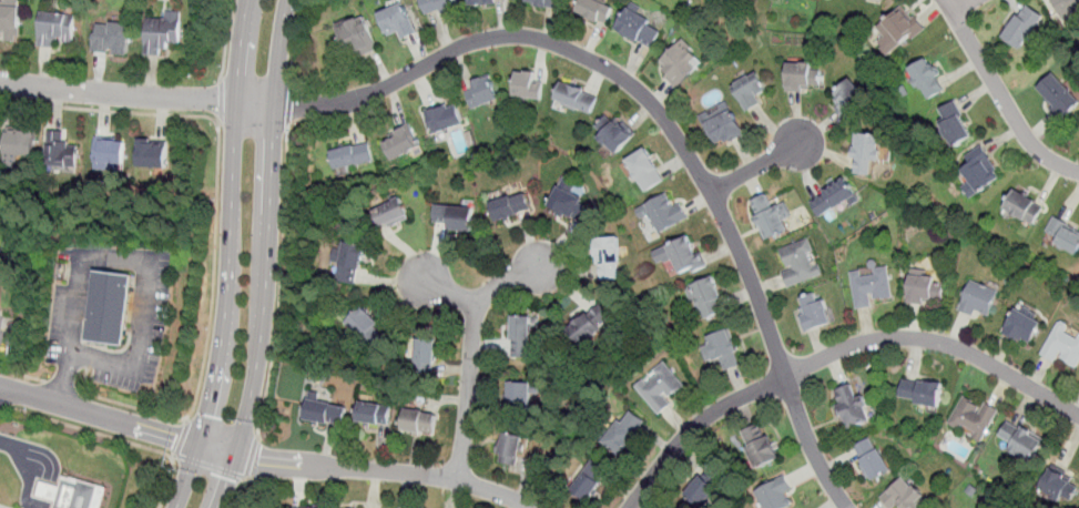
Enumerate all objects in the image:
building: (480, 1)
building: (546, 2)
road: (960, 4)
building: (438, 6)
building: (1067, 7)
building: (596, 11)
building: (398, 20)
building: (10, 21)
building: (1024, 26)
building: (640, 29)
building: (55, 30)
building: (897, 31)
building: (163, 33)
building: (356, 38)
building: (111, 39)
road: (226, 40)
road: (294, 41)
building: (680, 64)
building: (802, 75)
building: (927, 80)
building: (527, 85)
building: (750, 91)
road: (119, 92)
building: (481, 93)
road: (1002, 95)
building: (1058, 95)
building: (576, 99)
road: (220, 100)
building: (849, 100)
road: (288, 104)
road: (651, 104)
road: (110, 110)
building: (445, 119)
building: (721, 124)
building: (955, 124)
building: (617, 134)
building: (18, 141)
building: (400, 143)
building: (60, 151)
building: (109, 152)
building: (153, 153)
building: (866, 153)
building: (353, 154)
road: (759, 166)
building: (647, 171)
building: (978, 171)
building: (834, 199)
building: (572, 206)
building: (510, 207)
building: (1024, 207)
building: (390, 213)
building: (663, 213)
building: (454, 216)
building: (770, 217)
building: (1062, 235)
building: (686, 255)
road: (233, 256)
road: (271, 257)
building: (609, 260)
building: (349, 262)
building: (798, 262)
park: (0, 267)
road: (153, 271)
road: (213, 273)
road: (281, 283)
building: (871, 286)
building: (925, 289)
road: (486, 296)
building: (706, 299)
building: (978, 299)
building: (113, 309)
building: (813, 312)
building: (590, 325)
parking lot: (1, 327)
building: (366, 327)
building: (1024, 327)
building: (523, 337)
building: (1063, 346)
building: (722, 350)
building: (425, 352)
road: (835, 352)
parking lot: (7, 355)
road: (22, 374)
road: (65, 378)
road: (60, 386)
building: (659, 388)
building: (920, 393)
road: (467, 394)
building: (521, 396)
road: (1, 405)
road: (131, 406)
building: (851, 406)
building: (325, 412)
building: (373, 414)
road: (100, 415)
traffic signals: (210, 415)
building: (973, 418)
building: (419, 421)
road: (89, 429)
building: (623, 433)
traffic signals: (176, 437)
road: (182, 437)
building: (1019, 440)
building: (760, 446)
building: (510, 449)
road: (251, 457)
traffic signals: (258, 458)
building: (871, 459)
road: (45, 460)
road: (210, 466)
road: (370, 469)
traffic signals: (228, 478)
road: (169, 481)
building: (588, 481)
building: (704, 486)
building: (1058, 486)
building: (50, 492)
road: (240, 492)
building: (82, 495)
building: (774, 495)
building: (905, 496)
road: (0, 507)
building: (311, 507)

